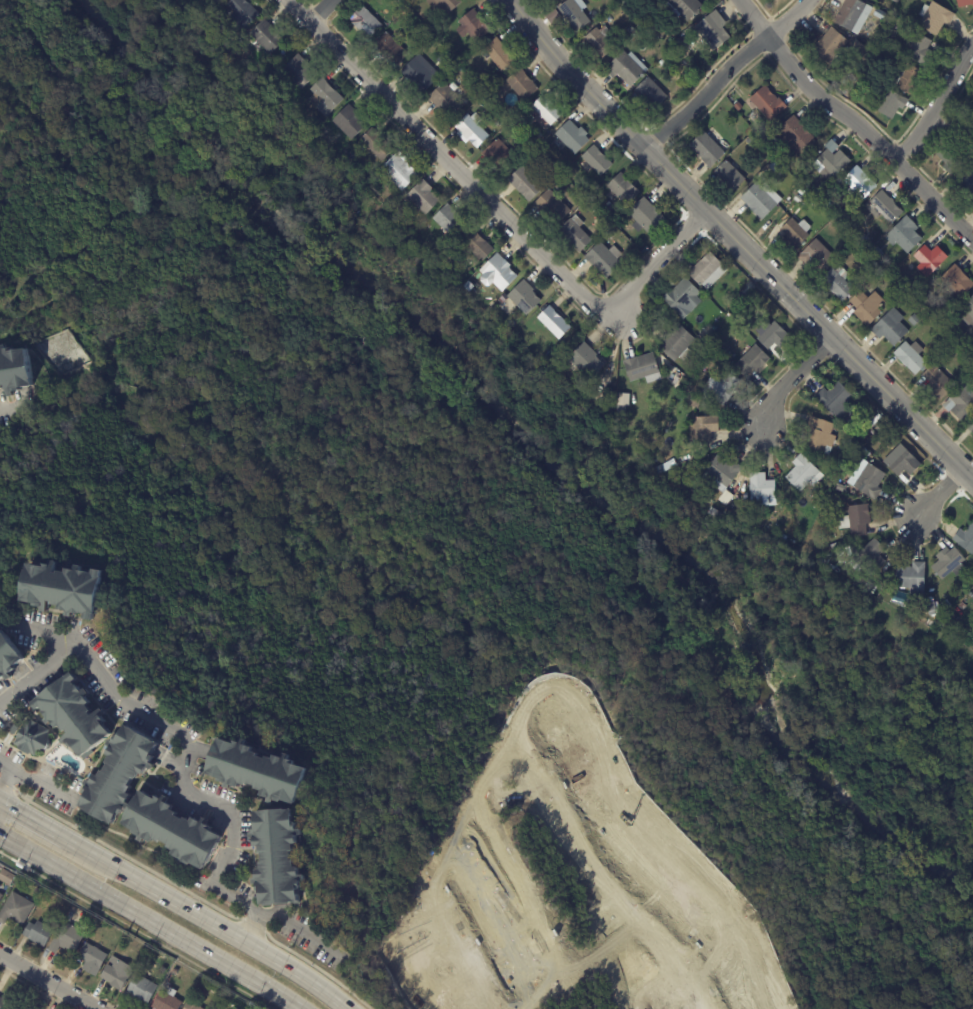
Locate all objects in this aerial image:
building: (659, 0)
building: (214, 1)
building: (392, 1)
building: (553, 1)
building: (896, 1)
building: (964, 3)
building: (444, 4)
building: (682, 9)
road: (326, 10)
building: (574, 14)
building: (240, 15)
building: (879, 15)
building: (852, 16)
building: (934, 19)
building: (364, 22)
building: (434, 26)
building: (472, 26)
building: (617, 27)
building: (652, 27)
building: (632, 31)
building: (714, 31)
building: (265, 38)
building: (682, 40)
building: (875, 41)
building: (430, 42)
building: (885, 42)
building: (599, 43)
building: (677, 44)
building: (829, 47)
building: (389, 48)
building: (920, 51)
building: (675, 52)
building: (855, 53)
building: (497, 54)
building: (678, 59)
building: (442, 60)
building: (627, 69)
building: (269, 72)
building: (298, 72)
building: (420, 73)
road: (723, 79)
building: (907, 80)
building: (485, 84)
building: (521, 85)
building: (454, 88)
building: (972, 89)
building: (650, 94)
building: (324, 97)
building: (447, 101)
building: (767, 103)
road: (935, 104)
building: (891, 105)
building: (738, 106)
building: (546, 110)
road: (855, 118)
building: (499, 121)
building: (316, 122)
building: (347, 122)
building: (471, 129)
building: (537, 135)
building: (793, 135)
building: (571, 138)
building: (765, 141)
building: (376, 145)
building: (528, 146)
building: (706, 149)
building: (500, 156)
building: (951, 156)
building: (597, 160)
building: (829, 162)
building: (774, 166)
building: (399, 167)
building: (566, 172)
building: (729, 175)
building: (965, 180)
building: (859, 182)
building: (524, 183)
building: (623, 189)
building: (801, 192)
building: (422, 197)
building: (798, 199)
building: (758, 201)
building: (886, 206)
building: (551, 207)
road: (501, 211)
building: (645, 216)
building: (839, 220)
building: (449, 221)
building: (853, 225)
building: (574, 234)
building: (794, 234)
building: (904, 235)
building: (655, 237)
building: (863, 239)
building: (475, 244)
road: (739, 244)
building: (878, 252)
building: (815, 257)
building: (867, 257)
building: (603, 259)
building: (929, 260)
building: (870, 263)
building: (708, 271)
building: (497, 274)
building: (878, 276)
building: (957, 281)
building: (837, 283)
building: (915, 294)
building: (682, 297)
building: (523, 298)
building: (738, 301)
building: (866, 307)
building: (966, 312)
building: (913, 320)
building: (553, 322)
building: (946, 325)
building: (889, 327)
building: (703, 336)
building: (772, 336)
building: (676, 344)
building: (953, 344)
building: (941, 346)
building: (959, 352)
building: (547, 356)
building: (710, 357)
building: (910, 357)
building: (556, 358)
building: (585, 361)
building: (751, 361)
building: (642, 368)
building: (14, 370)
building: (704, 377)
road: (789, 381)
building: (702, 382)
building: (938, 382)
building: (722, 389)
building: (835, 400)
building: (960, 403)
building: (970, 427)
building: (705, 428)
building: (880, 428)
building: (854, 431)
building: (873, 433)
building: (819, 436)
building: (868, 437)
building: (901, 462)
building: (801, 473)
building: (721, 477)
building: (870, 482)
building: (828, 484)
building: (761, 487)
building: (840, 487)
building: (824, 490)
building: (728, 494)
road: (935, 498)
building: (708, 501)
building: (729, 513)
building: (856, 520)
building: (845, 533)
building: (783, 539)
building: (965, 539)
building: (871, 556)
building: (949, 565)
building: (911, 579)
building: (61, 590)
building: (971, 595)
building: (899, 598)
building: (908, 601)
building: (944, 608)
building: (931, 609)
road: (35, 632)
building: (8, 657)
building: (73, 716)
building: (13, 731)
building: (31, 739)
road: (12, 765)
road: (186, 765)
building: (256, 772)
building: (118, 774)
road: (40, 781)
road: (3, 783)
road: (33, 818)
building: (171, 831)
building: (275, 857)
building: (5, 876)
building: (0, 888)
building: (35, 892)
building: (0, 895)
building: (15, 908)
road: (258, 915)
road: (209, 919)
road: (150, 921)
road: (251, 930)
building: (38, 932)
building: (66, 939)
building: (90, 958)
building: (175, 970)
building: (116, 973)
road: (44, 983)
building: (141, 989)
building: (6, 1001)
building: (166, 1001)
building: (21, 1006)
building: (190, 1006)

